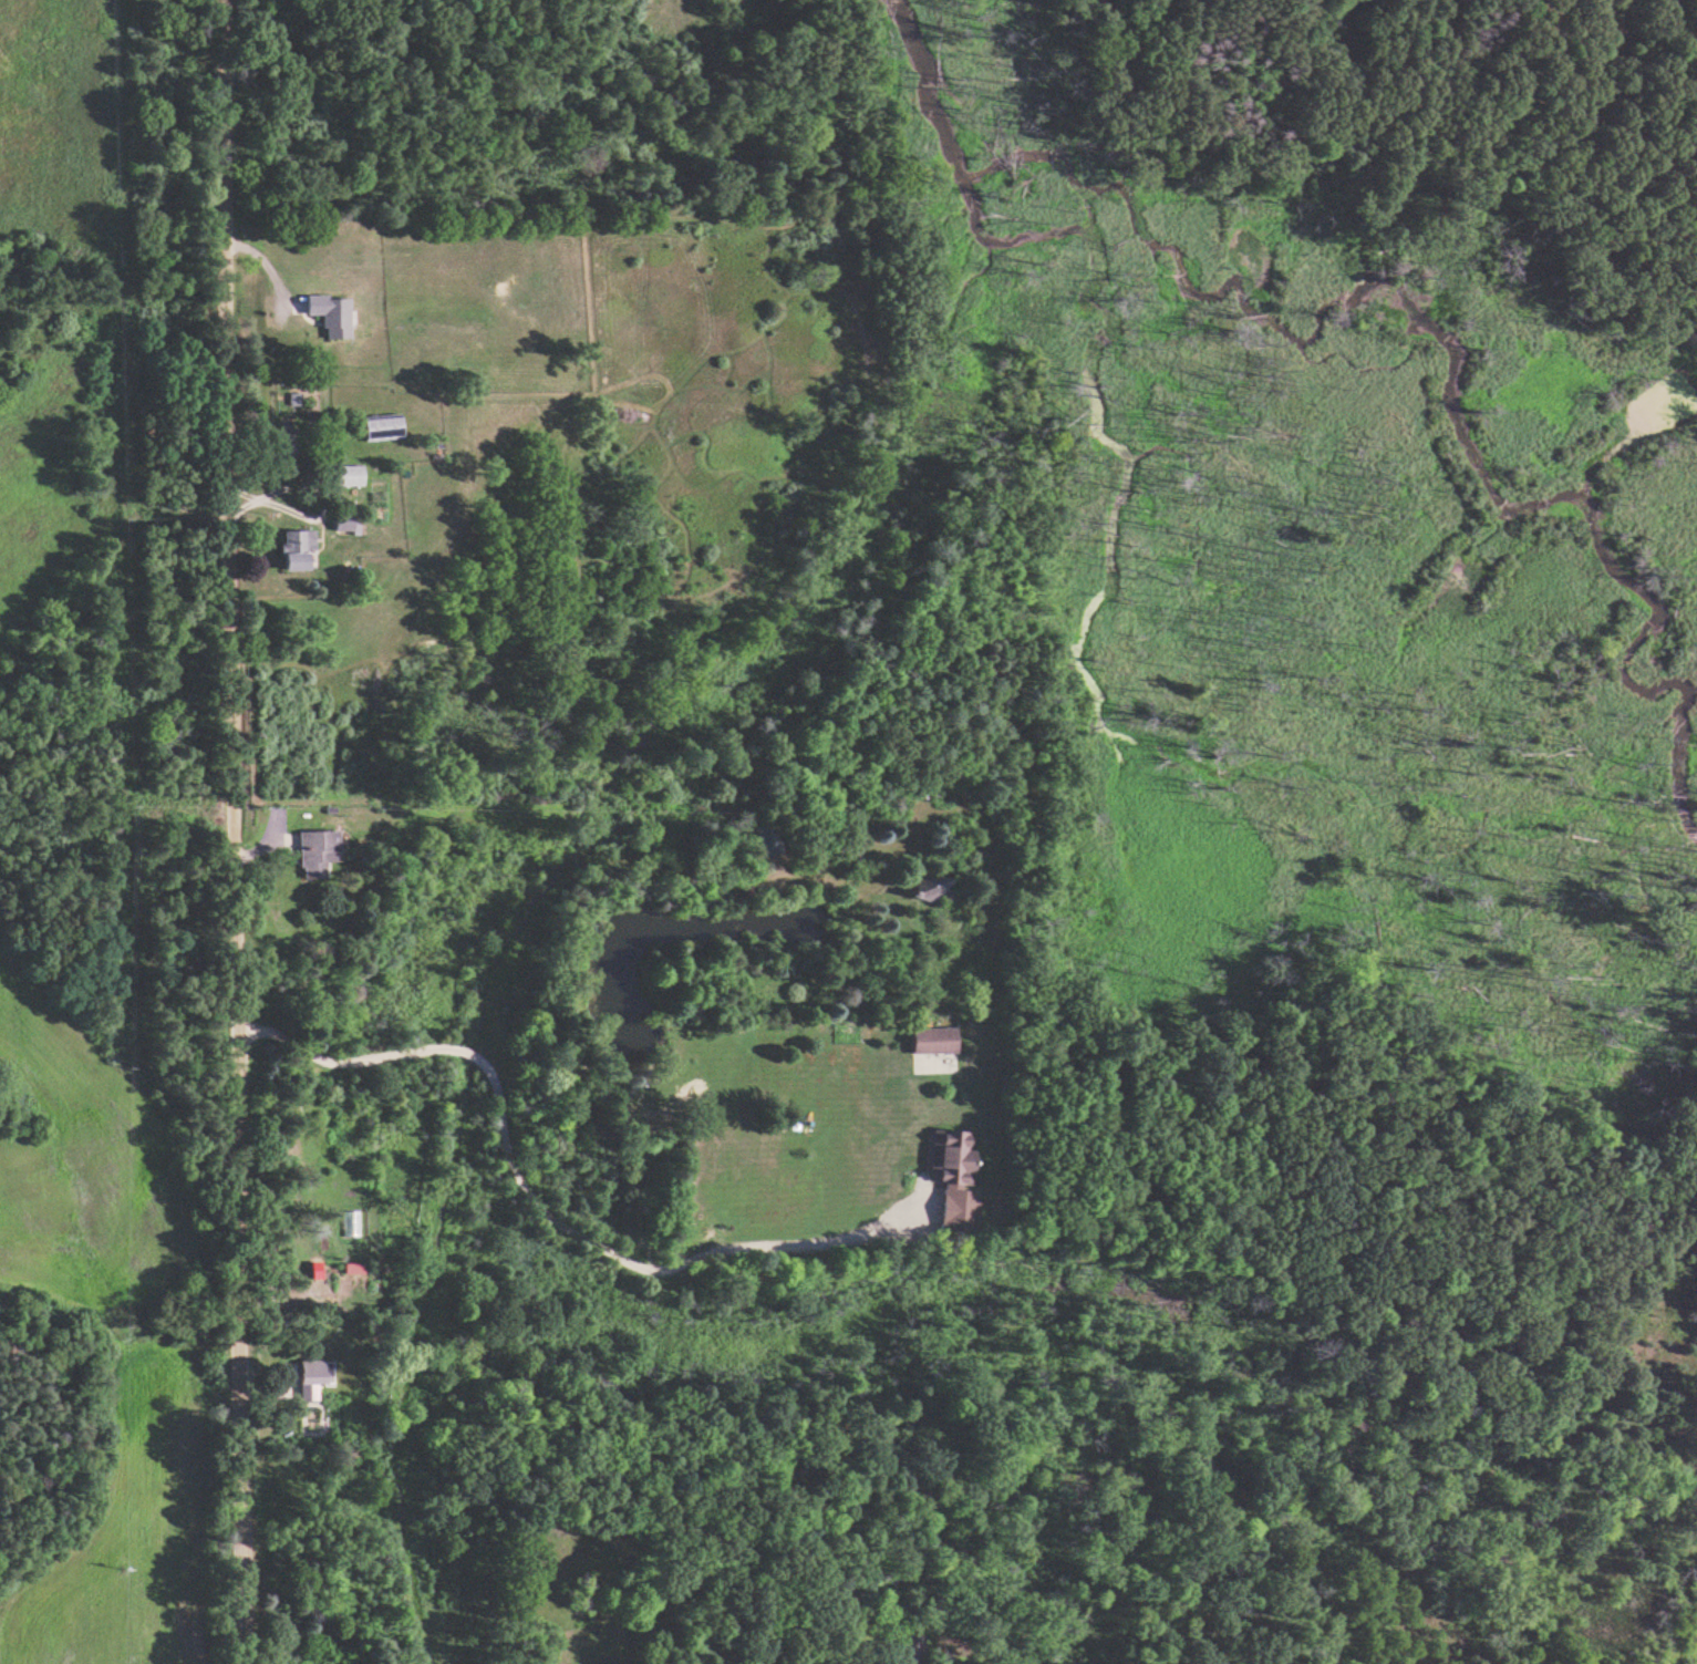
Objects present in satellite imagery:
road: (1128, 127)
building: (59, 131)
building: (328, 313)
building: (346, 474)
building: (293, 548)
road: (226, 831)
building: (763, 840)
building: (313, 851)
building: (929, 888)
building: (930, 1040)
building: (946, 1156)
crop: (79, 1162)
road: (535, 1206)
building: (307, 1377)
crop: (116, 1543)
building: (911, 1649)

